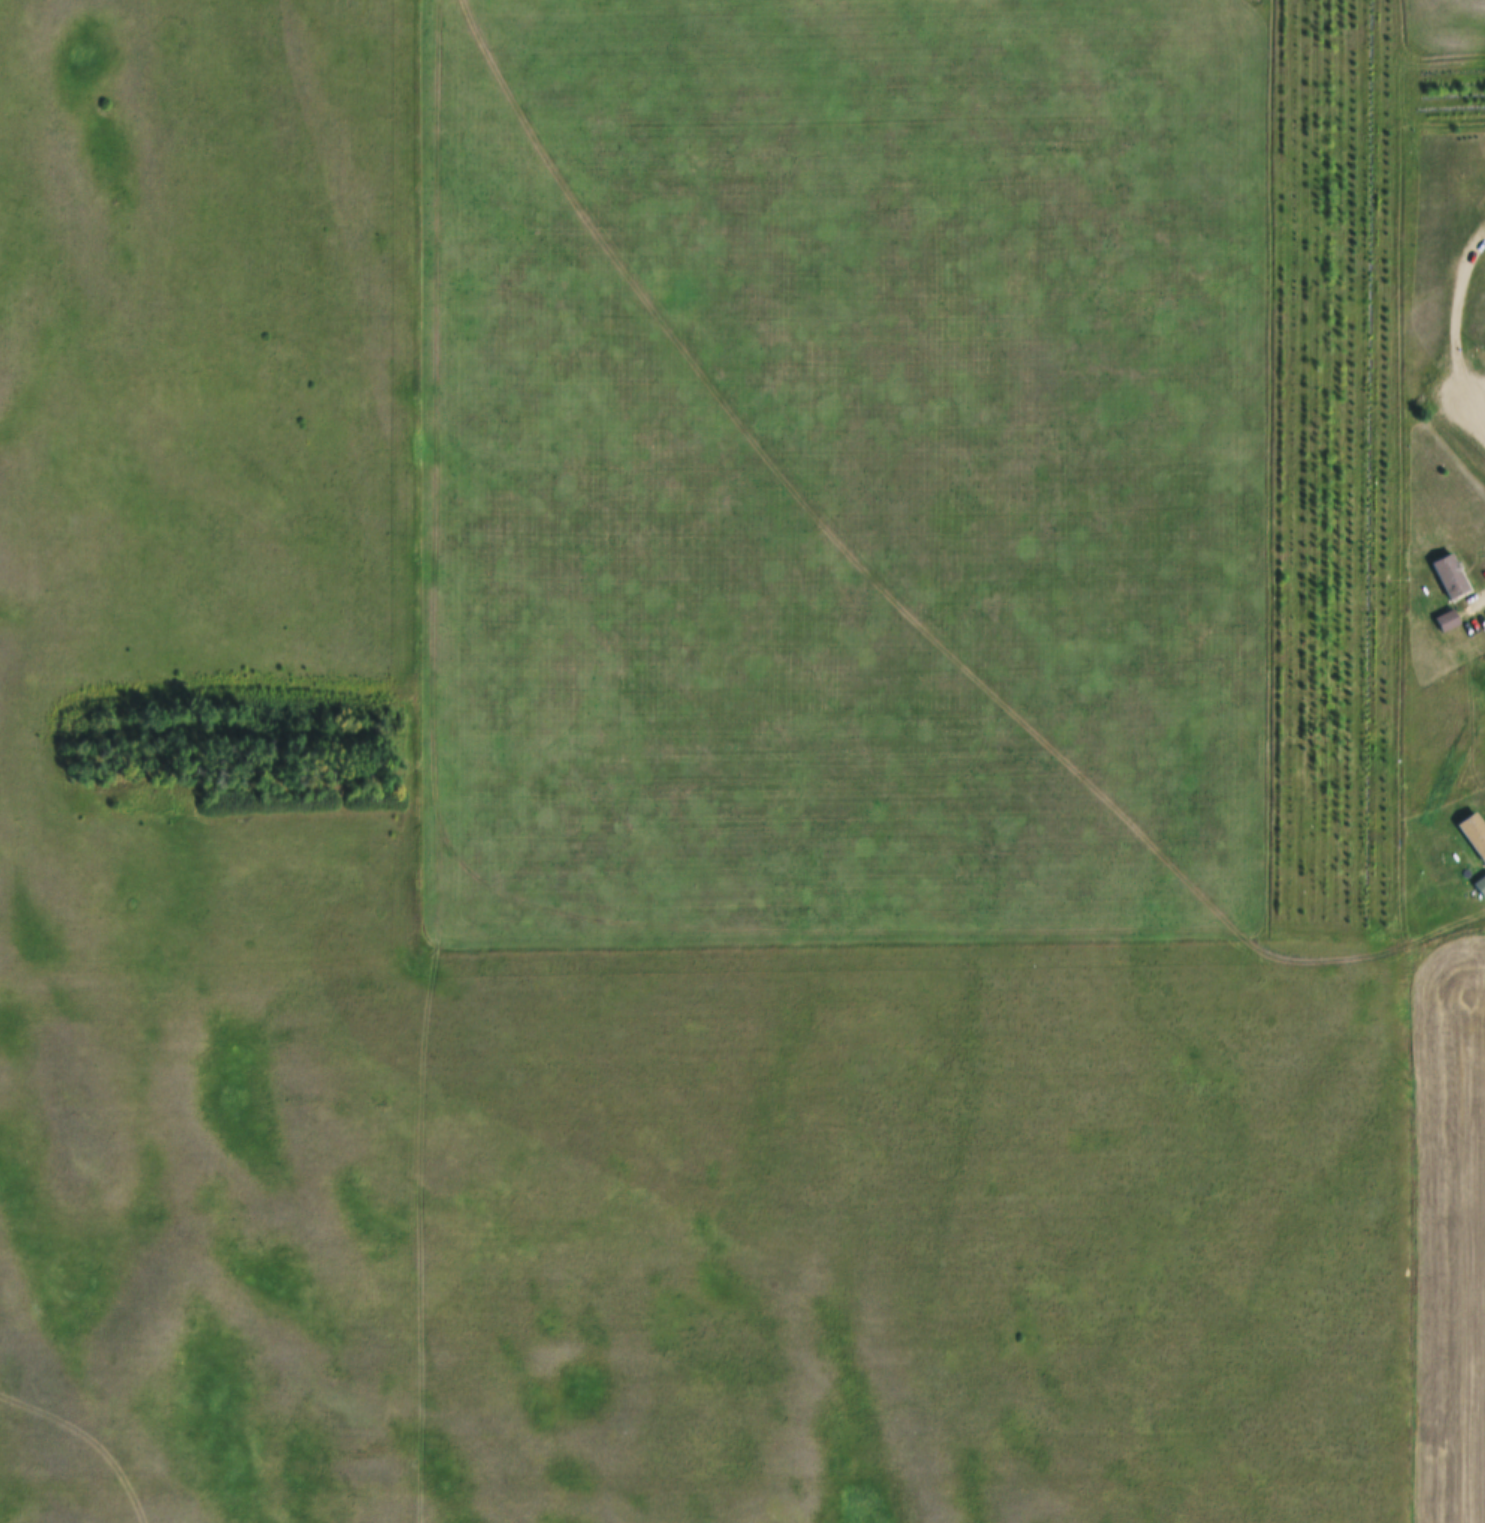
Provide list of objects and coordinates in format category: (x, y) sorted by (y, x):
road: (1459, 307)
road: (1475, 387)
road: (1475, 406)
building: (1451, 576)
building: (1449, 619)
building: (1475, 832)
building: (1481, 887)

